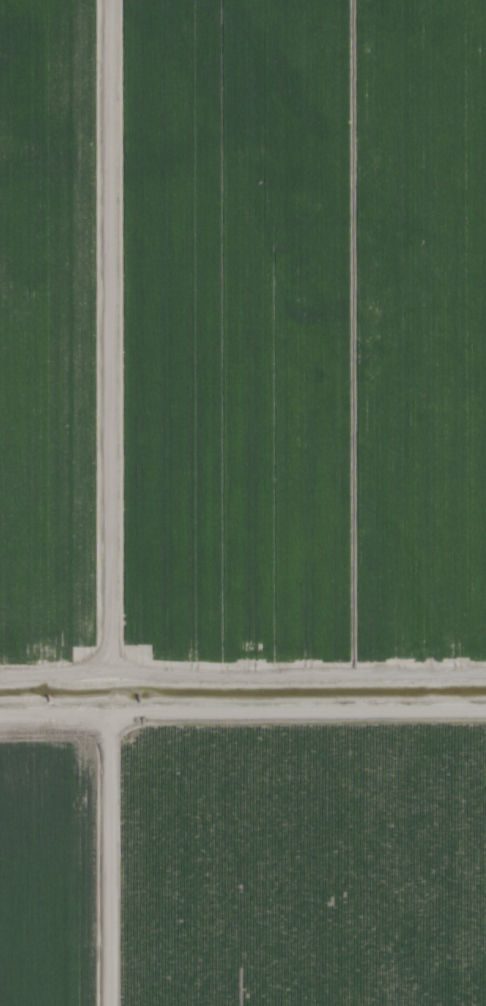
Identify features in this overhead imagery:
road: (107, 502)
road: (53, 681)

